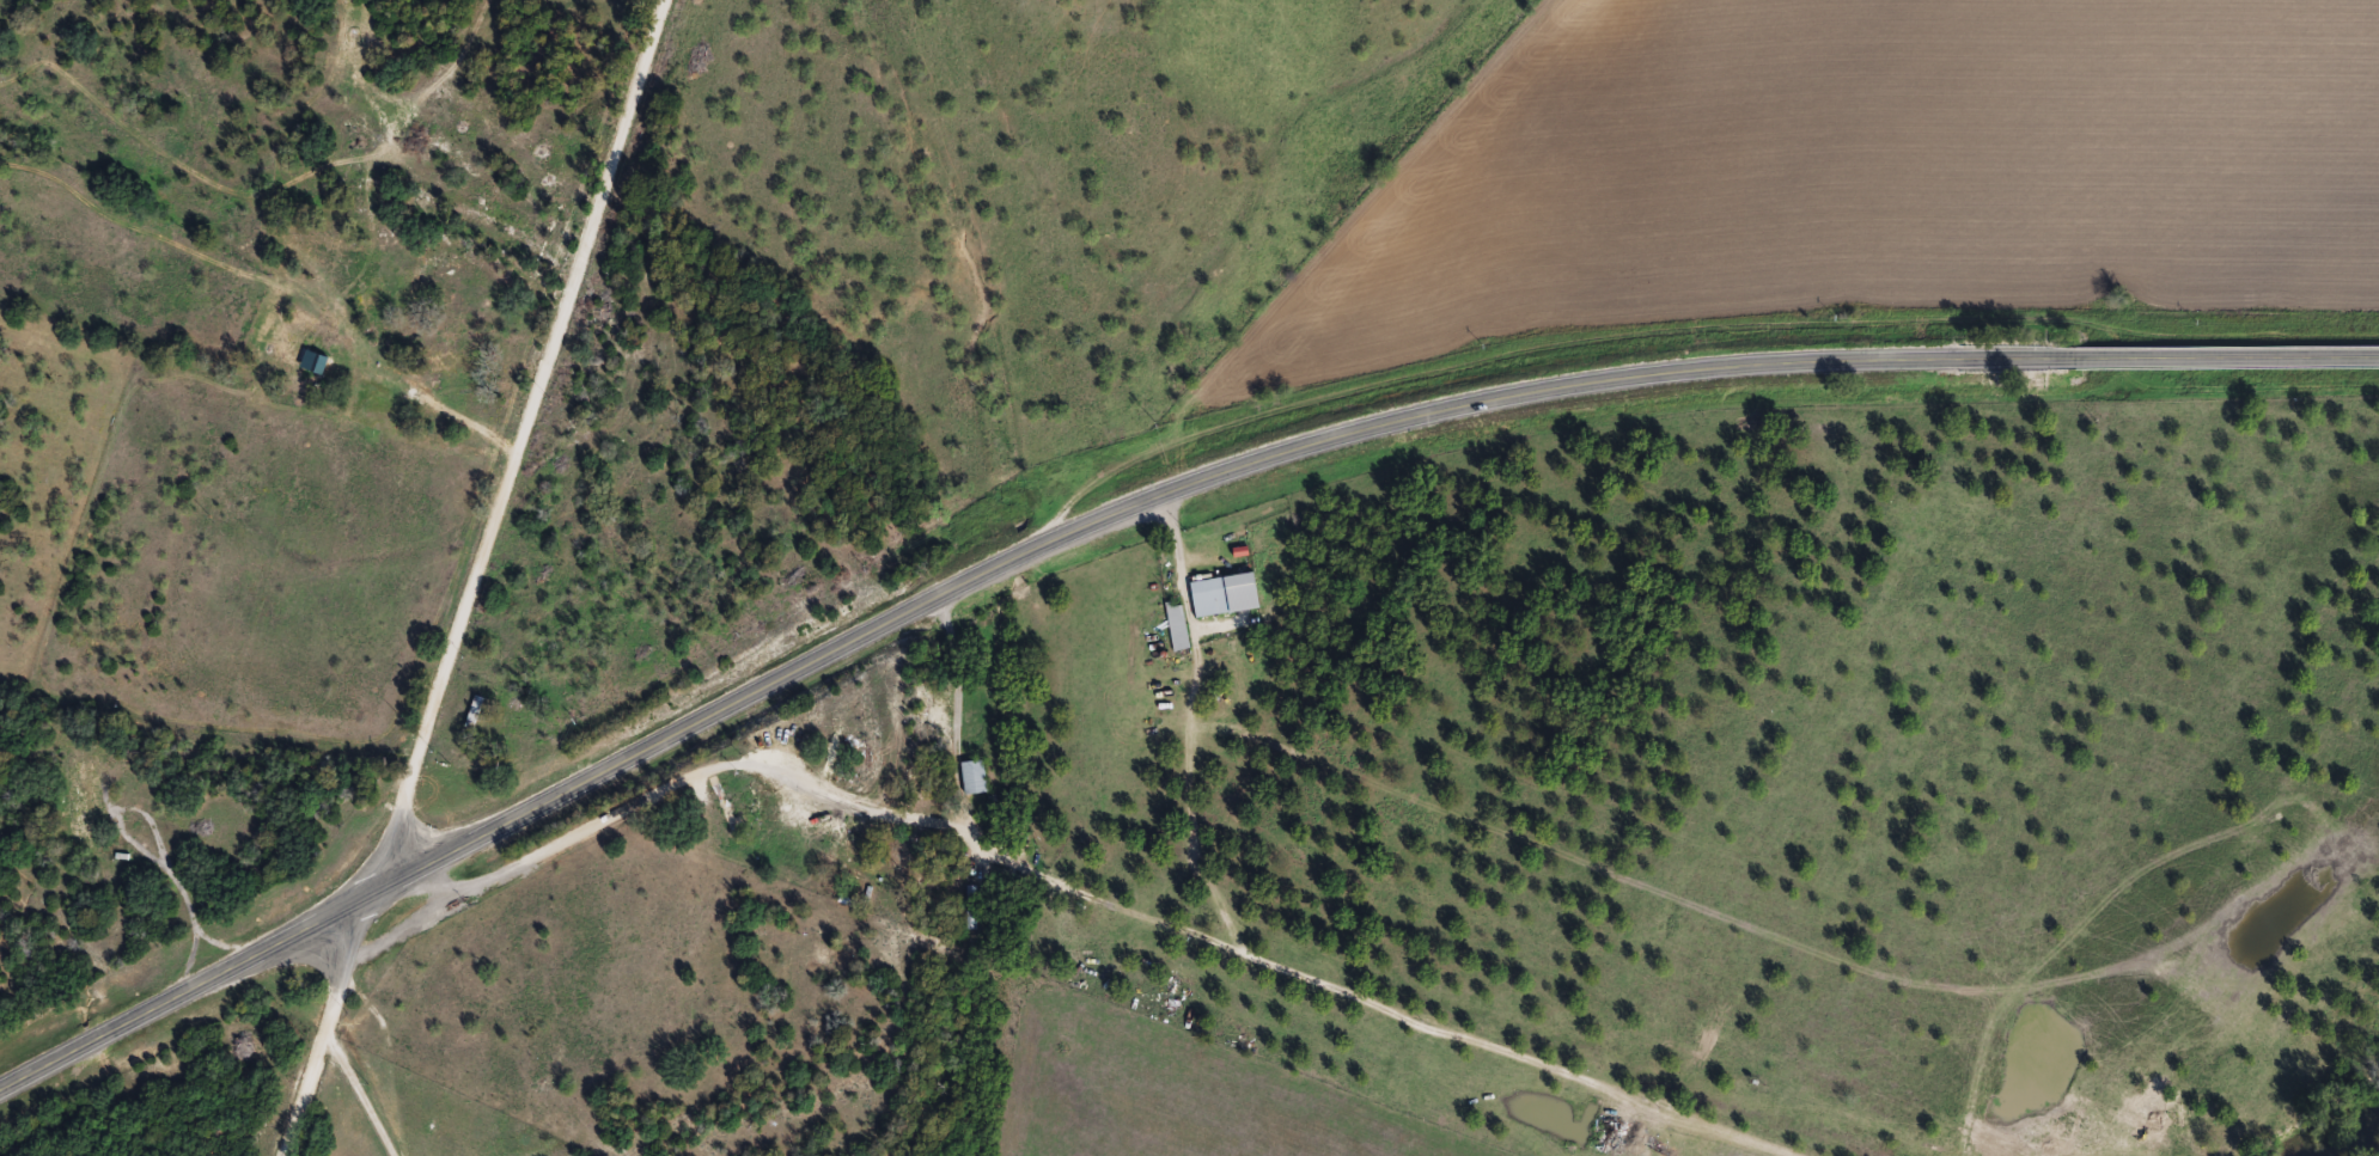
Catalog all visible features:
building: (407, 325)
building: (316, 328)
building: (288, 355)
road: (336, 356)
building: (456, 361)
road: (542, 438)
road: (1129, 510)
building: (1226, 598)
building: (1179, 628)
building: (477, 715)
building: (976, 779)
road: (937, 782)
building: (89, 793)
building: (974, 906)
road: (347, 1014)
river: (2338, 1129)

